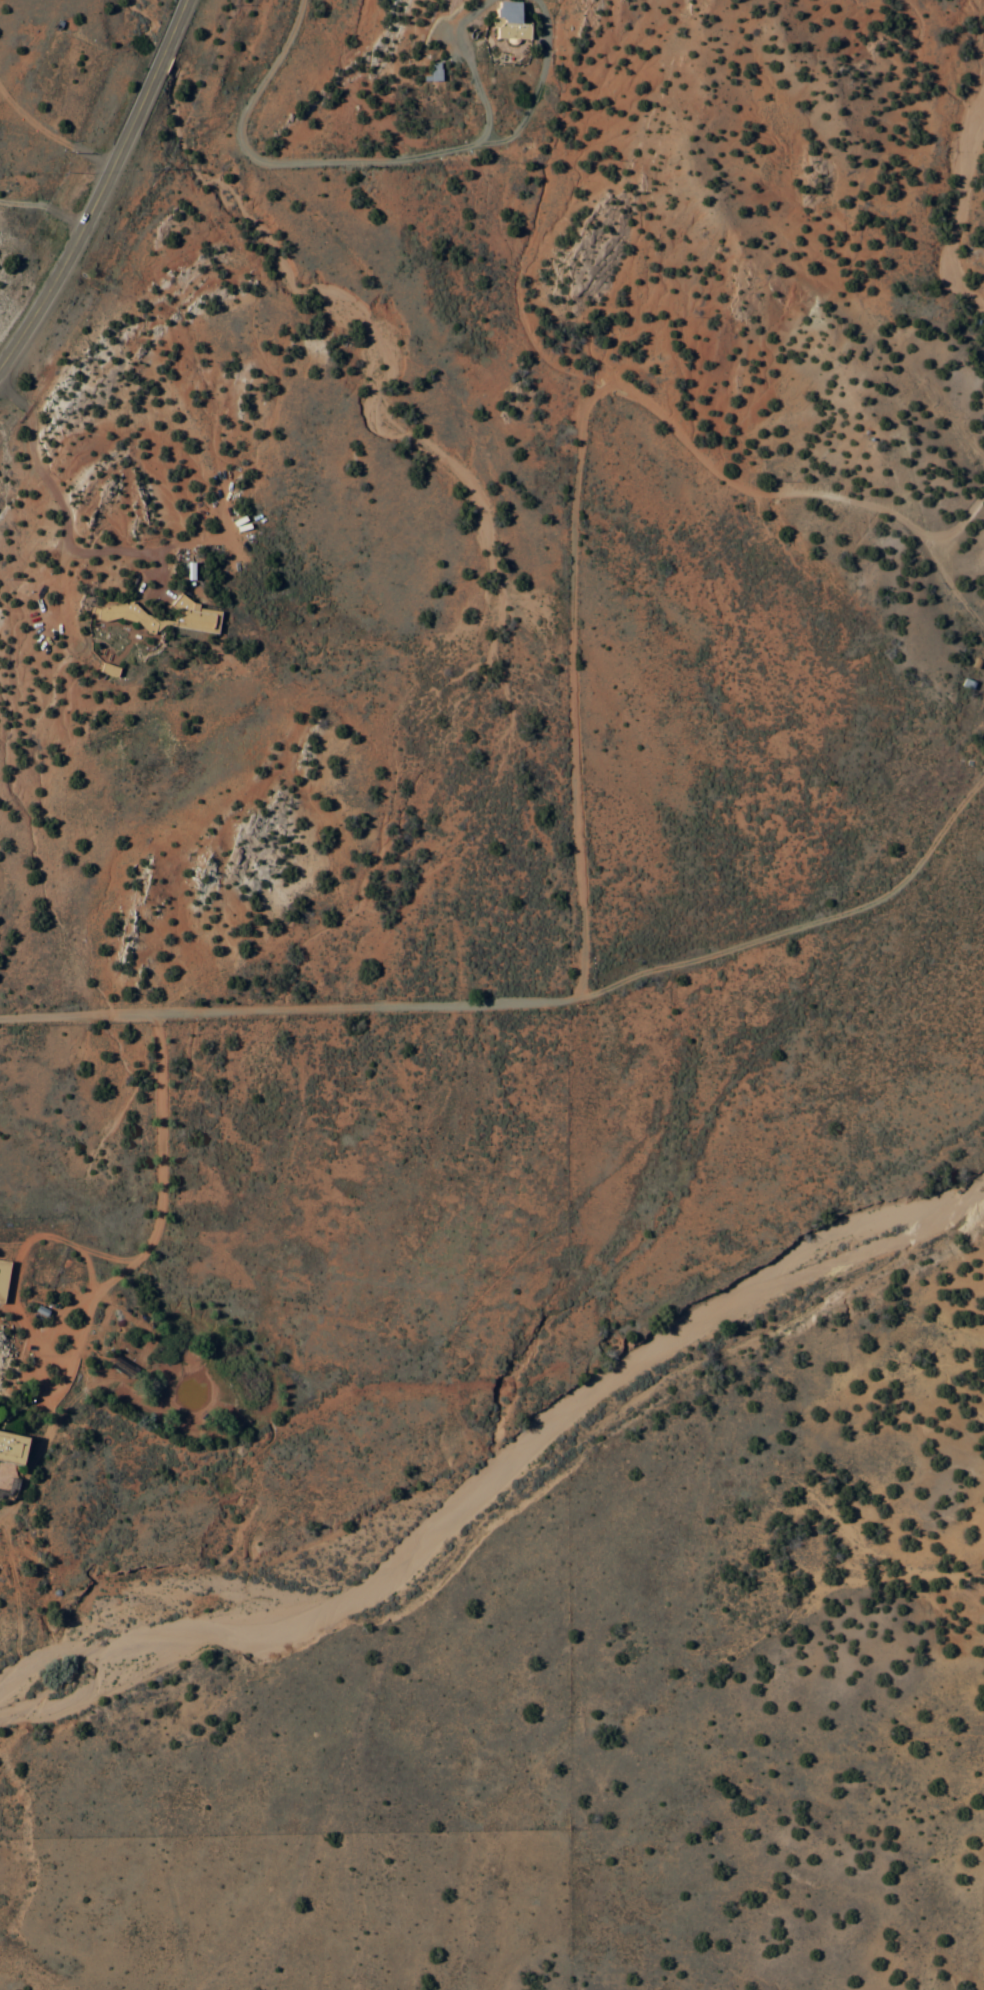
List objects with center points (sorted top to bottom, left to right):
building: (506, 23)
building: (431, 72)
road: (101, 186)
building: (973, 256)
building: (191, 618)
building: (105, 671)
road: (799, 927)
road: (282, 1010)
building: (10, 1447)

